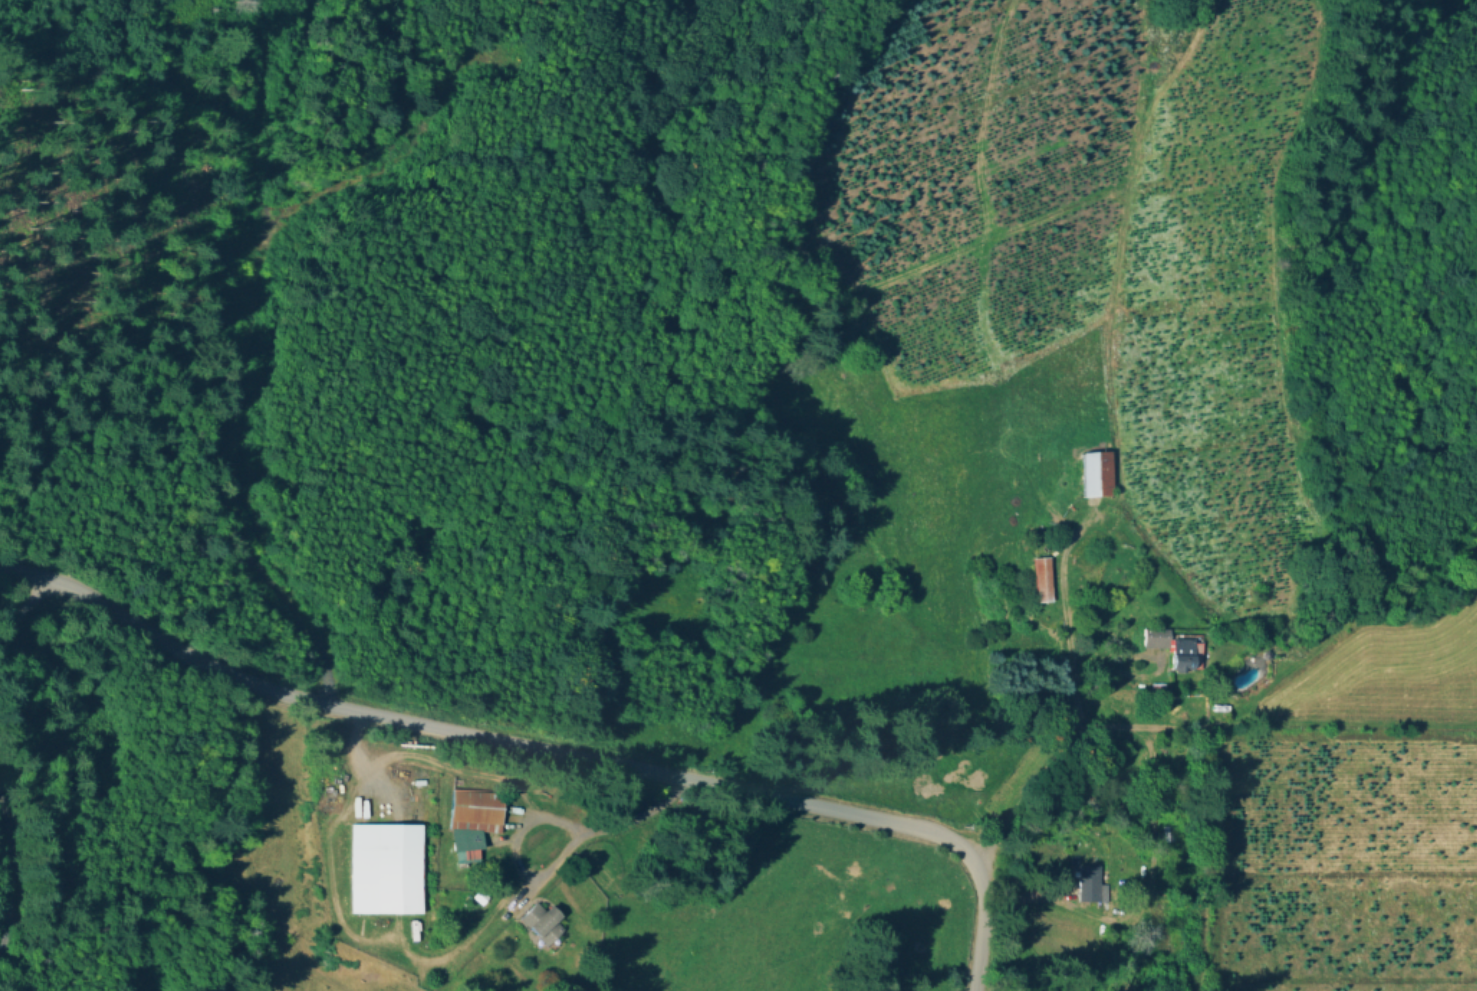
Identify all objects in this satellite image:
road: (254, 338)
building: (1093, 474)
building: (1040, 580)
road: (23, 614)
road: (1328, 629)
building: (1151, 640)
building: (1178, 657)
road: (545, 747)
road: (1147, 757)
road: (476, 775)
building: (473, 811)
road: (599, 830)
road: (11, 857)
building: (382, 870)
building: (537, 925)

